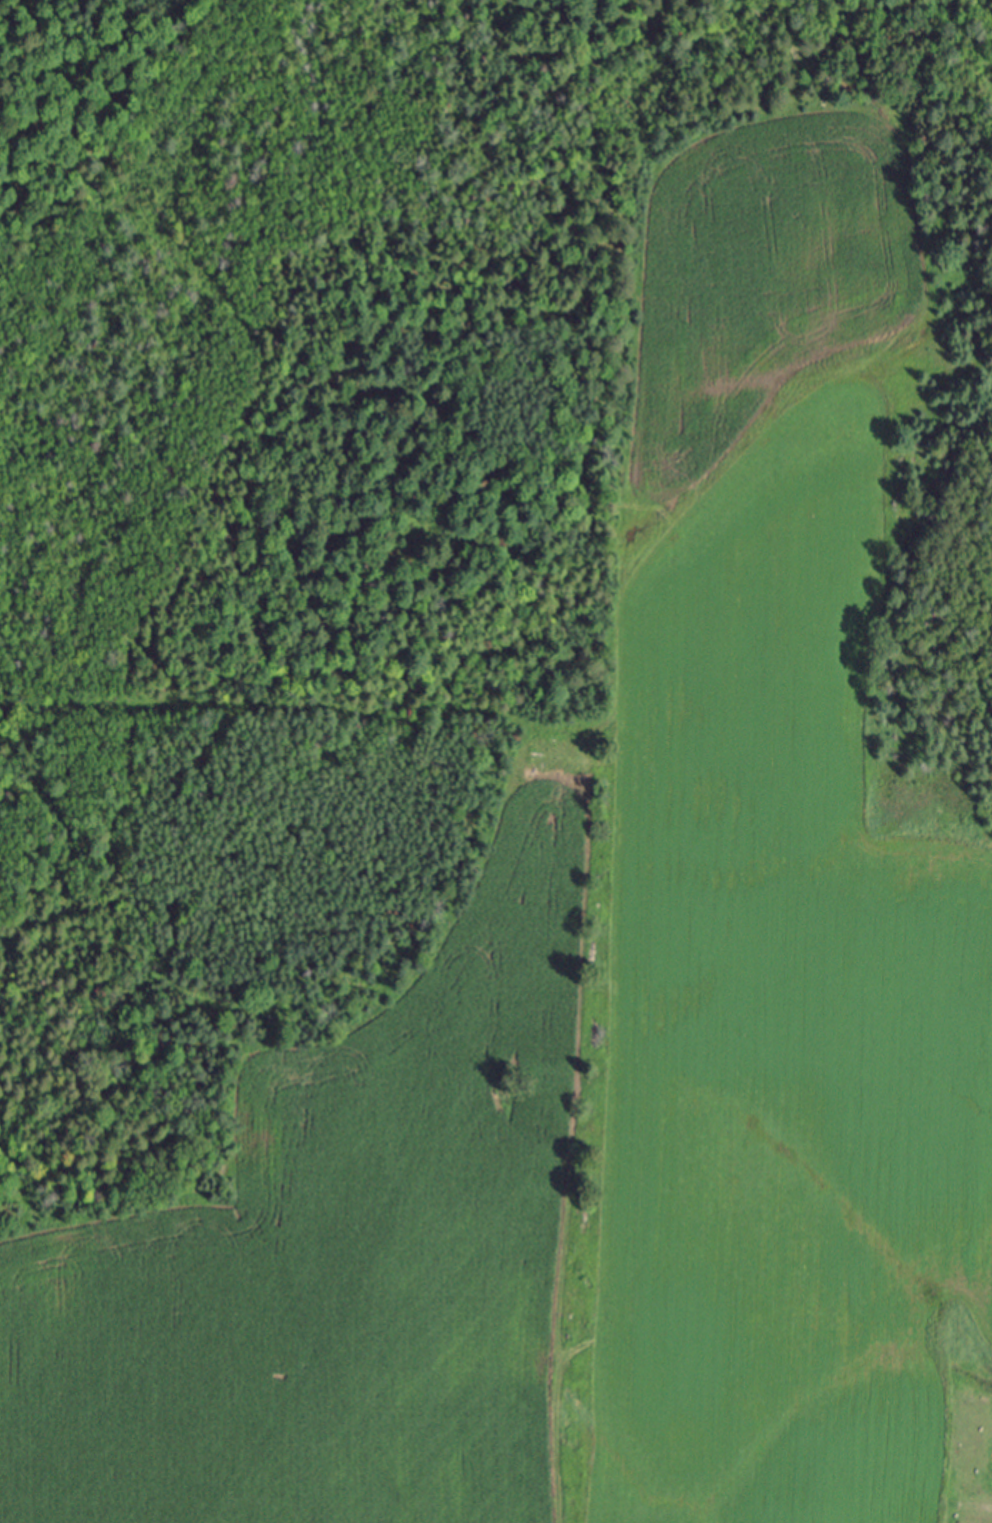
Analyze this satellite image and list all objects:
building: (570, 1311)

